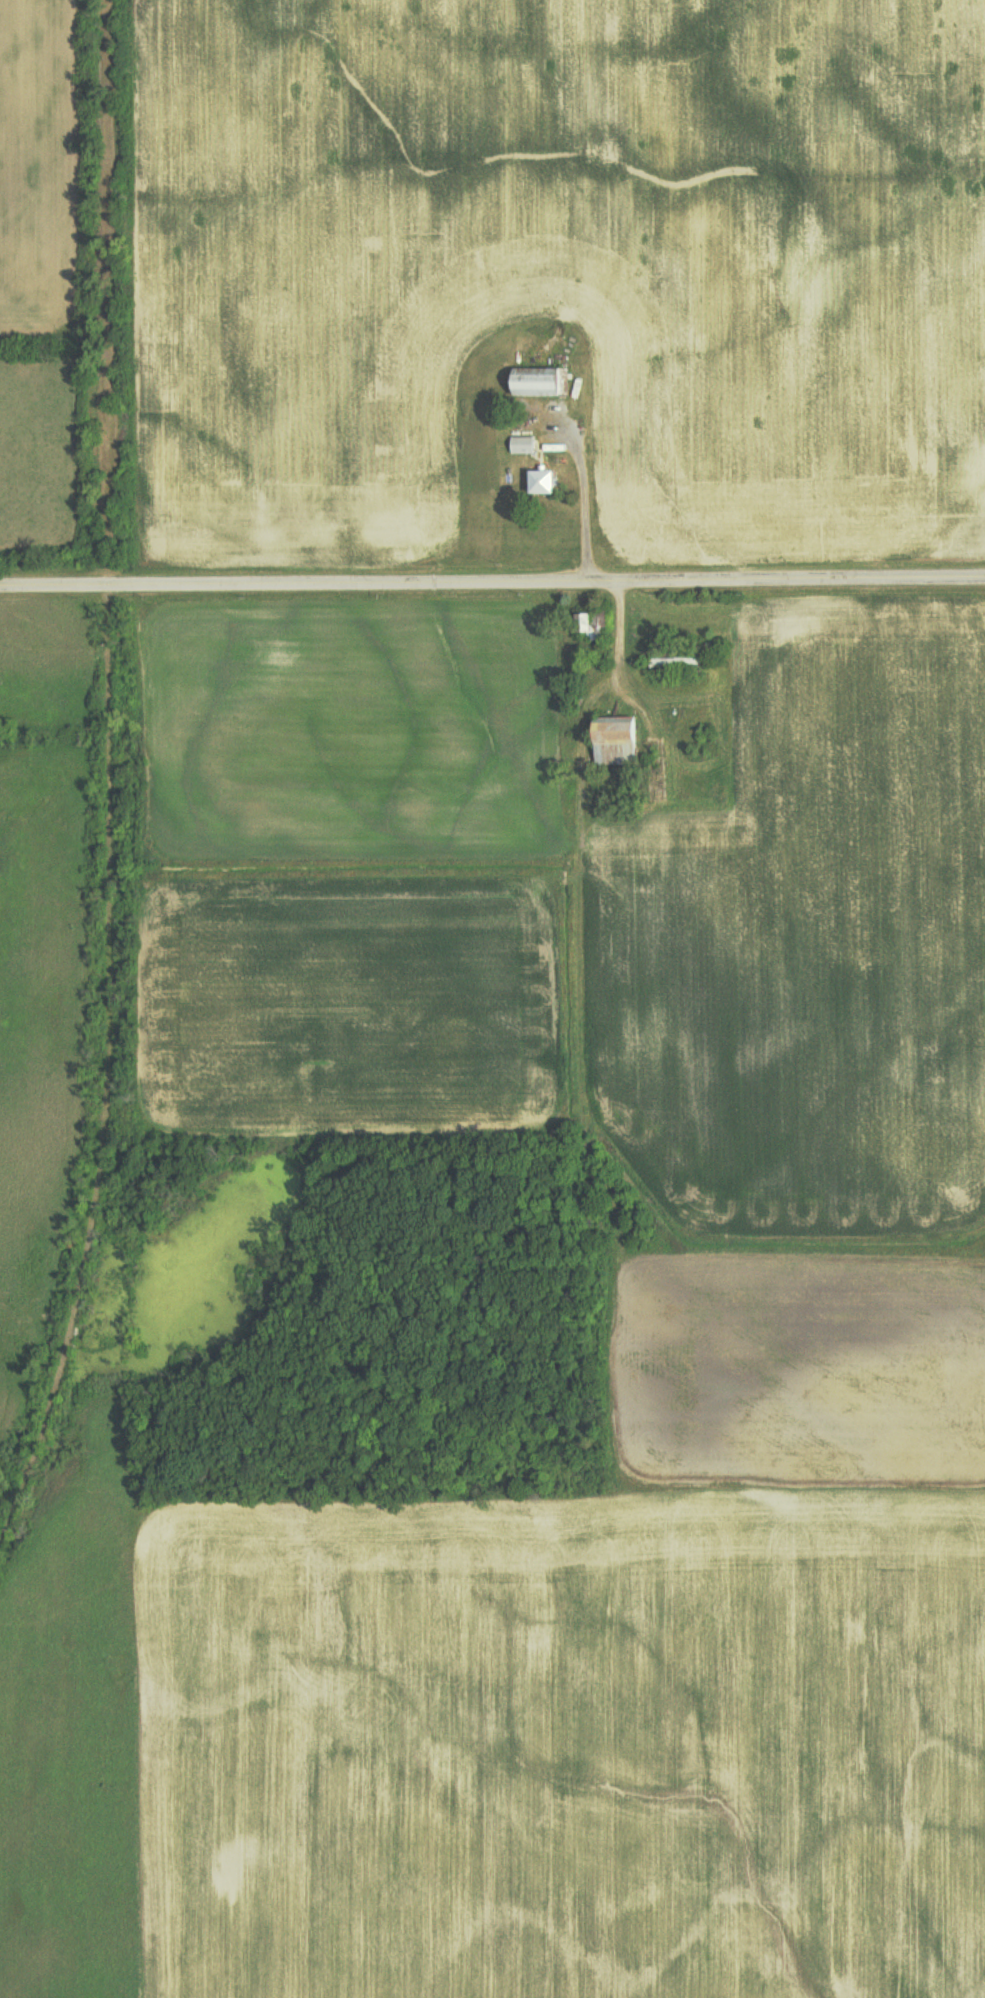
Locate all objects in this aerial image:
crop: (39, 162)
crop: (569, 265)
road: (492, 586)
crop: (42, 667)
crop: (345, 870)
crop: (807, 935)
crop: (610, 1672)
crop: (74, 1733)

